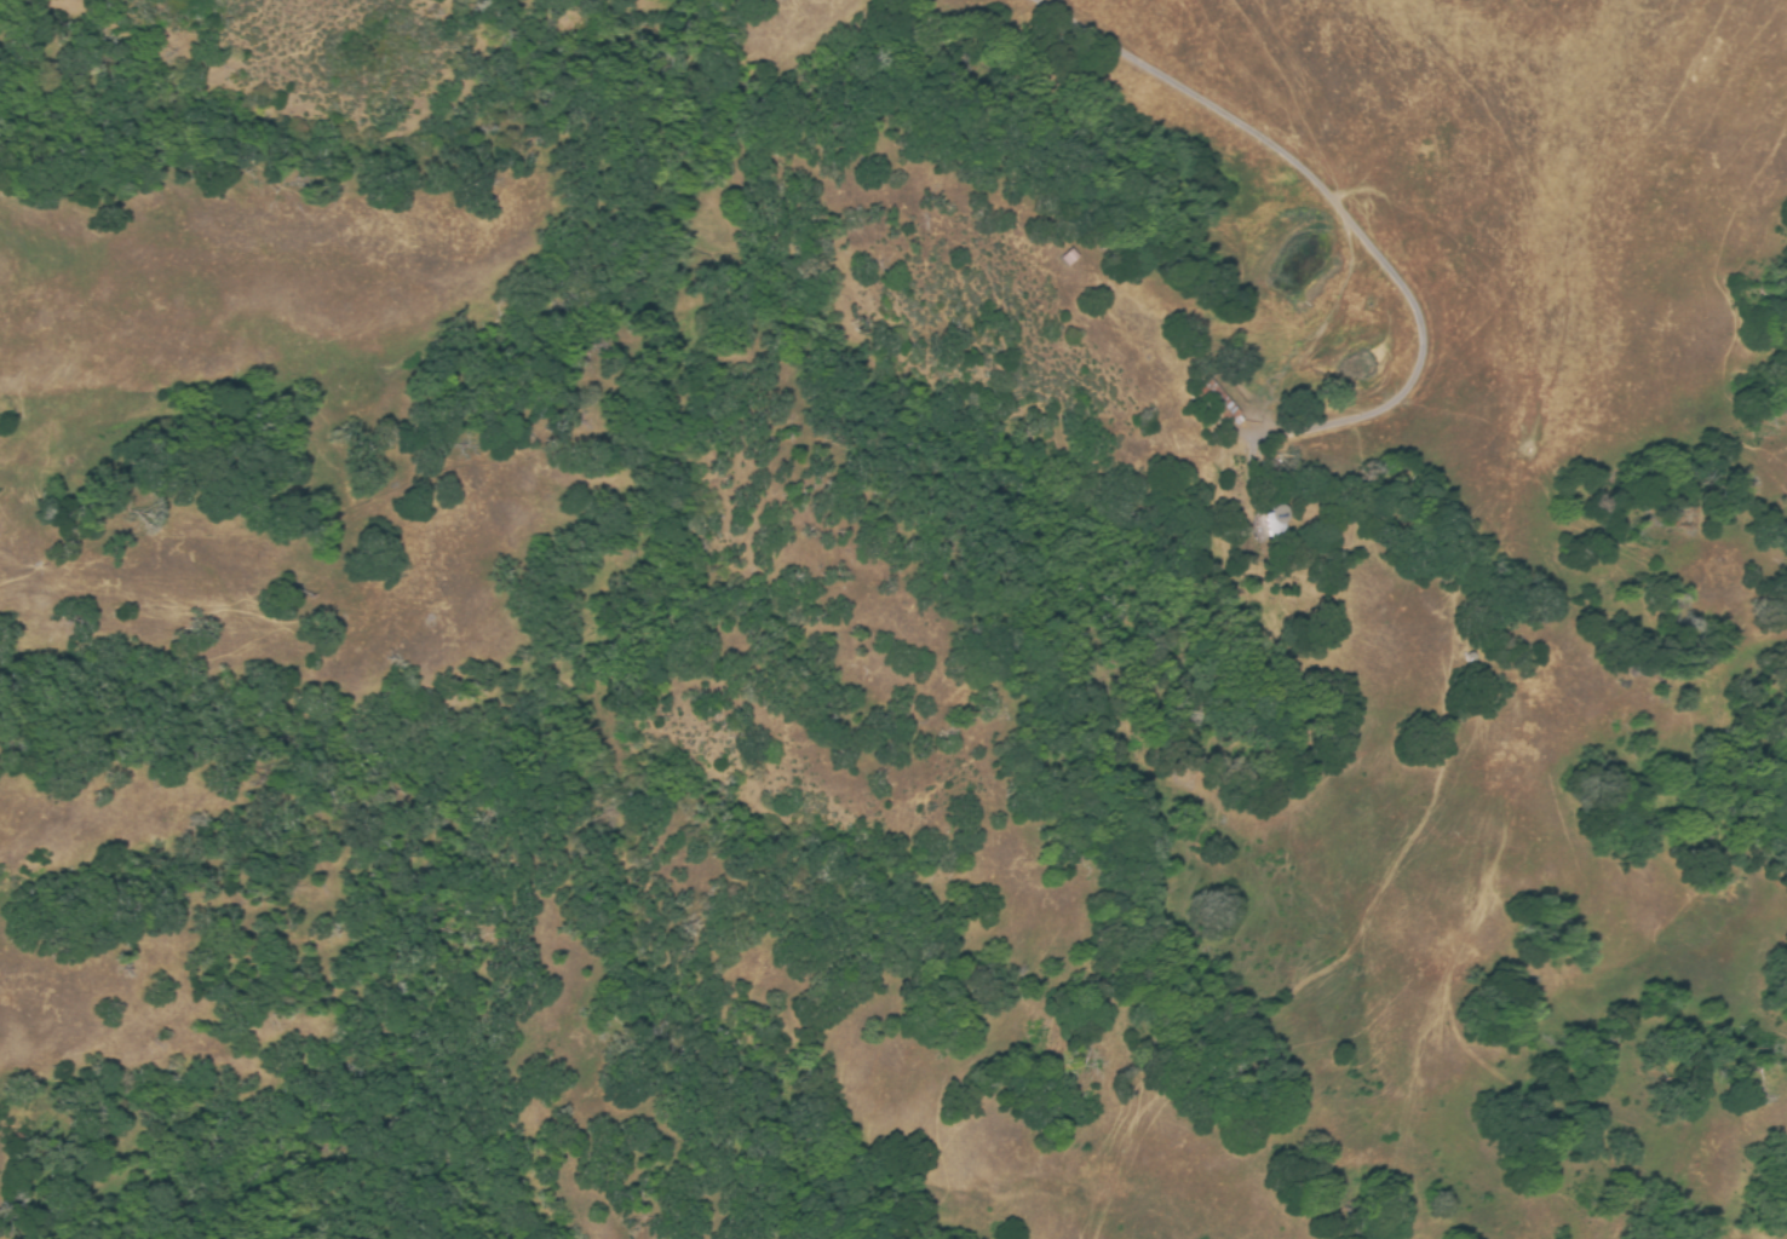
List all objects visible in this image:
building: (1272, 521)

